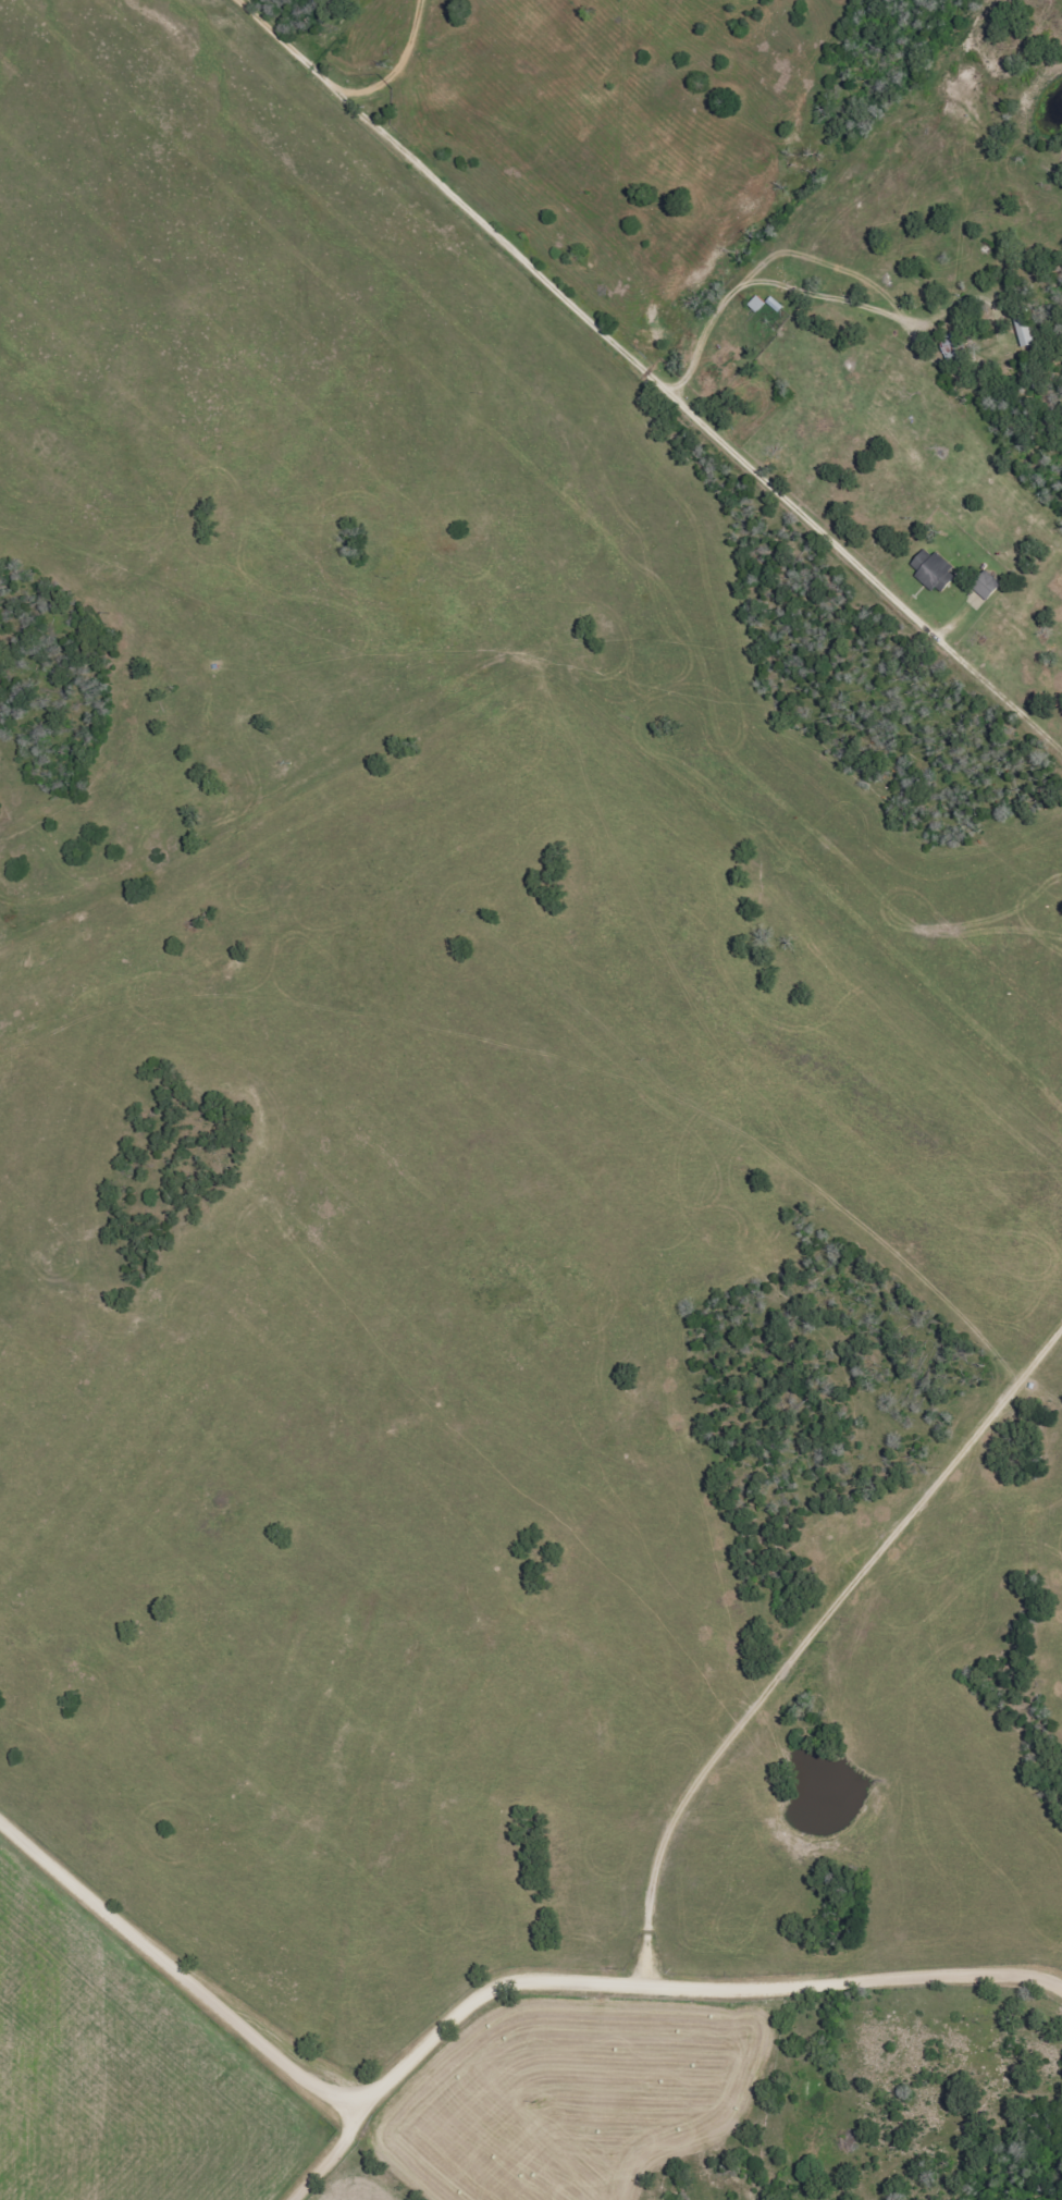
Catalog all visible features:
building: (754, 305)
road: (711, 324)
building: (930, 571)
building: (984, 586)
road: (176, 1962)
road: (694, 1983)
road: (328, 2148)

